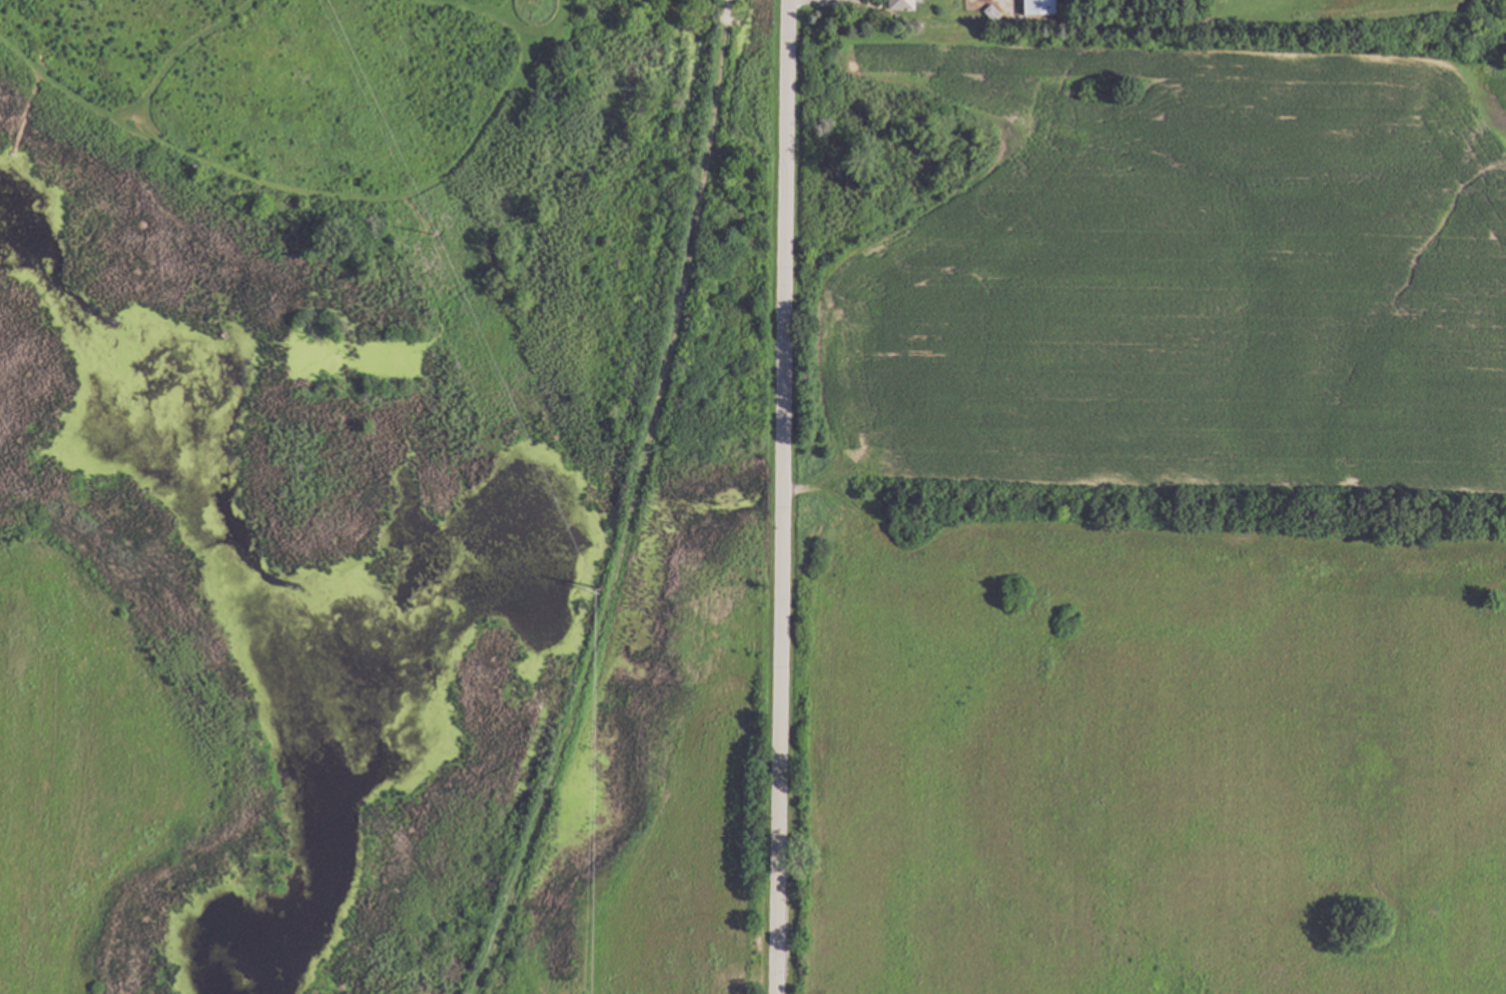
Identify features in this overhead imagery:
building: (904, 4)
building: (1041, 6)
building: (994, 12)
road: (787, 497)
crop: (1150, 509)
crop: (79, 767)

